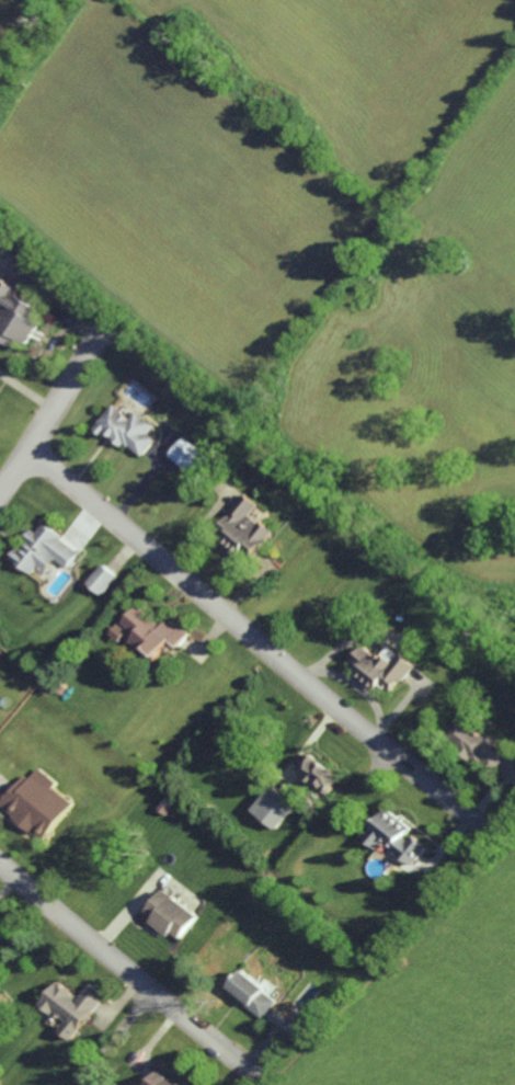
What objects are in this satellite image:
building: (18, 317)
road: (45, 420)
building: (124, 430)
building: (187, 457)
building: (242, 530)
building: (42, 550)
building: (100, 579)
building: (151, 632)
road: (249, 637)
building: (385, 667)
building: (480, 744)
building: (320, 774)
building: (35, 803)
building: (274, 806)
building: (394, 837)
building: (172, 915)
road: (121, 967)
building: (251, 993)
building: (71, 1007)
building: (163, 1078)

